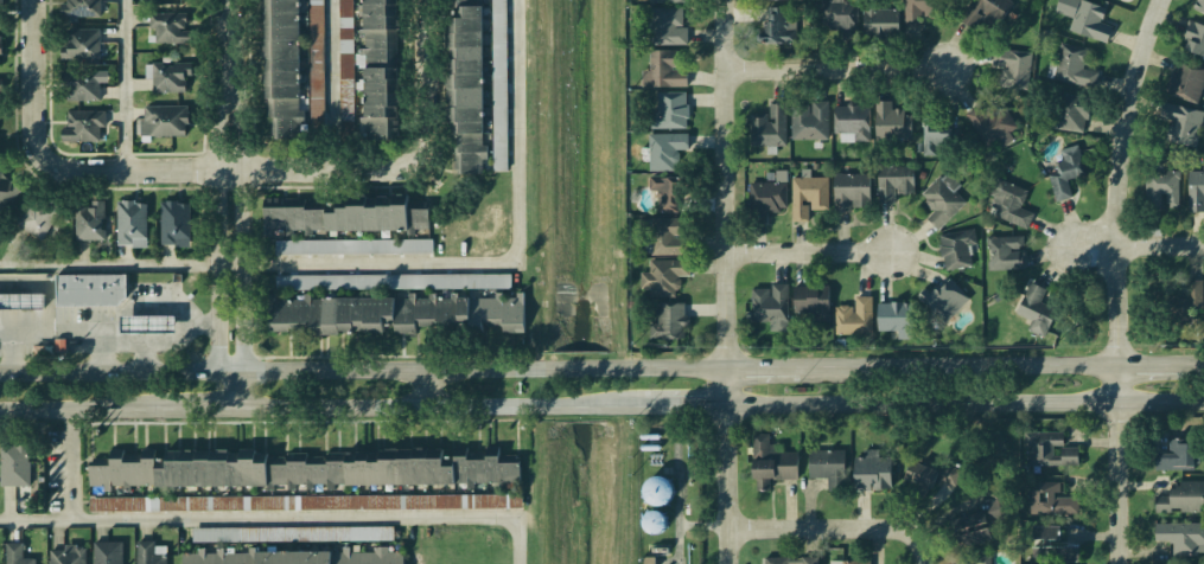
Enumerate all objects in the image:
building: (667, 1)
building: (1200, 7)
building: (0, 11)
building: (79, 12)
building: (917, 12)
building: (986, 12)
building: (840, 17)
building: (879, 20)
building: (1087, 20)
building: (498, 26)
building: (662, 26)
building: (778, 26)
building: (165, 27)
building: (1189, 37)
building: (81, 45)
road: (229, 50)
building: (0, 52)
building: (316, 63)
building: (376, 66)
building: (1012, 66)
building: (1075, 66)
road: (836, 68)
building: (280, 69)
building: (661, 72)
building: (165, 73)
building: (1183, 81)
building: (81, 83)
road: (121, 85)
building: (463, 85)
road: (329, 86)
building: (0, 95)
building: (1066, 108)
building: (668, 110)
road: (40, 116)
building: (807, 117)
building: (164, 118)
building: (847, 121)
building: (990, 122)
building: (1176, 122)
building: (888, 123)
building: (81, 124)
building: (764, 126)
building: (935, 137)
building: (665, 153)
road: (351, 172)
building: (1060, 177)
building: (1192, 186)
building: (891, 187)
building: (848, 190)
building: (5, 191)
building: (663, 194)
building: (1157, 194)
building: (805, 196)
building: (765, 198)
building: (939, 200)
building: (1008, 203)
building: (342, 216)
building: (37, 218)
building: (173, 219)
building: (85, 220)
building: (128, 223)
road: (216, 230)
road: (241, 230)
building: (661, 236)
building: (353, 246)
road: (1132, 246)
building: (957, 250)
building: (1004, 250)
road: (824, 252)
road: (388, 263)
building: (664, 277)
road: (1121, 278)
road: (23, 280)
building: (374, 281)
road: (731, 282)
building: (90, 289)
building: (936, 295)
building: (1185, 296)
building: (1028, 299)
building: (20, 300)
road: (46, 302)
building: (766, 302)
building: (807, 307)
building: (393, 313)
building: (894, 315)
building: (851, 318)
road: (199, 321)
building: (669, 321)
building: (148, 325)
road: (23, 326)
road: (181, 331)
road: (123, 340)
road: (15, 348)
road: (142, 355)
road: (1203, 364)
road: (1161, 365)
road: (969, 366)
road: (579, 367)
road: (681, 367)
road: (775, 367)
road: (263, 371)
road: (230, 387)
road: (427, 389)
road: (968, 403)
road: (680, 405)
road: (574, 406)
road: (376, 409)
road: (195, 412)
road: (79, 415)
building: (1046, 448)
building: (1176, 450)
building: (769, 463)
building: (12, 466)
building: (826, 466)
building: (429, 467)
road: (70, 468)
building: (869, 468)
building: (217, 469)
building: (949, 473)
building: (917, 474)
building: (657, 491)
building: (1047, 495)
building: (1177, 496)
building: (305, 502)
building: (996, 508)
road: (281, 520)
building: (654, 521)
building: (968, 527)
road: (818, 528)
building: (292, 533)
building: (1177, 534)
building: (1049, 543)
road: (918, 544)
building: (107, 551)
building: (145, 552)
building: (13, 553)
building: (66, 553)
building: (295, 557)
building: (974, 558)
building: (788, 559)
building: (847, 560)

